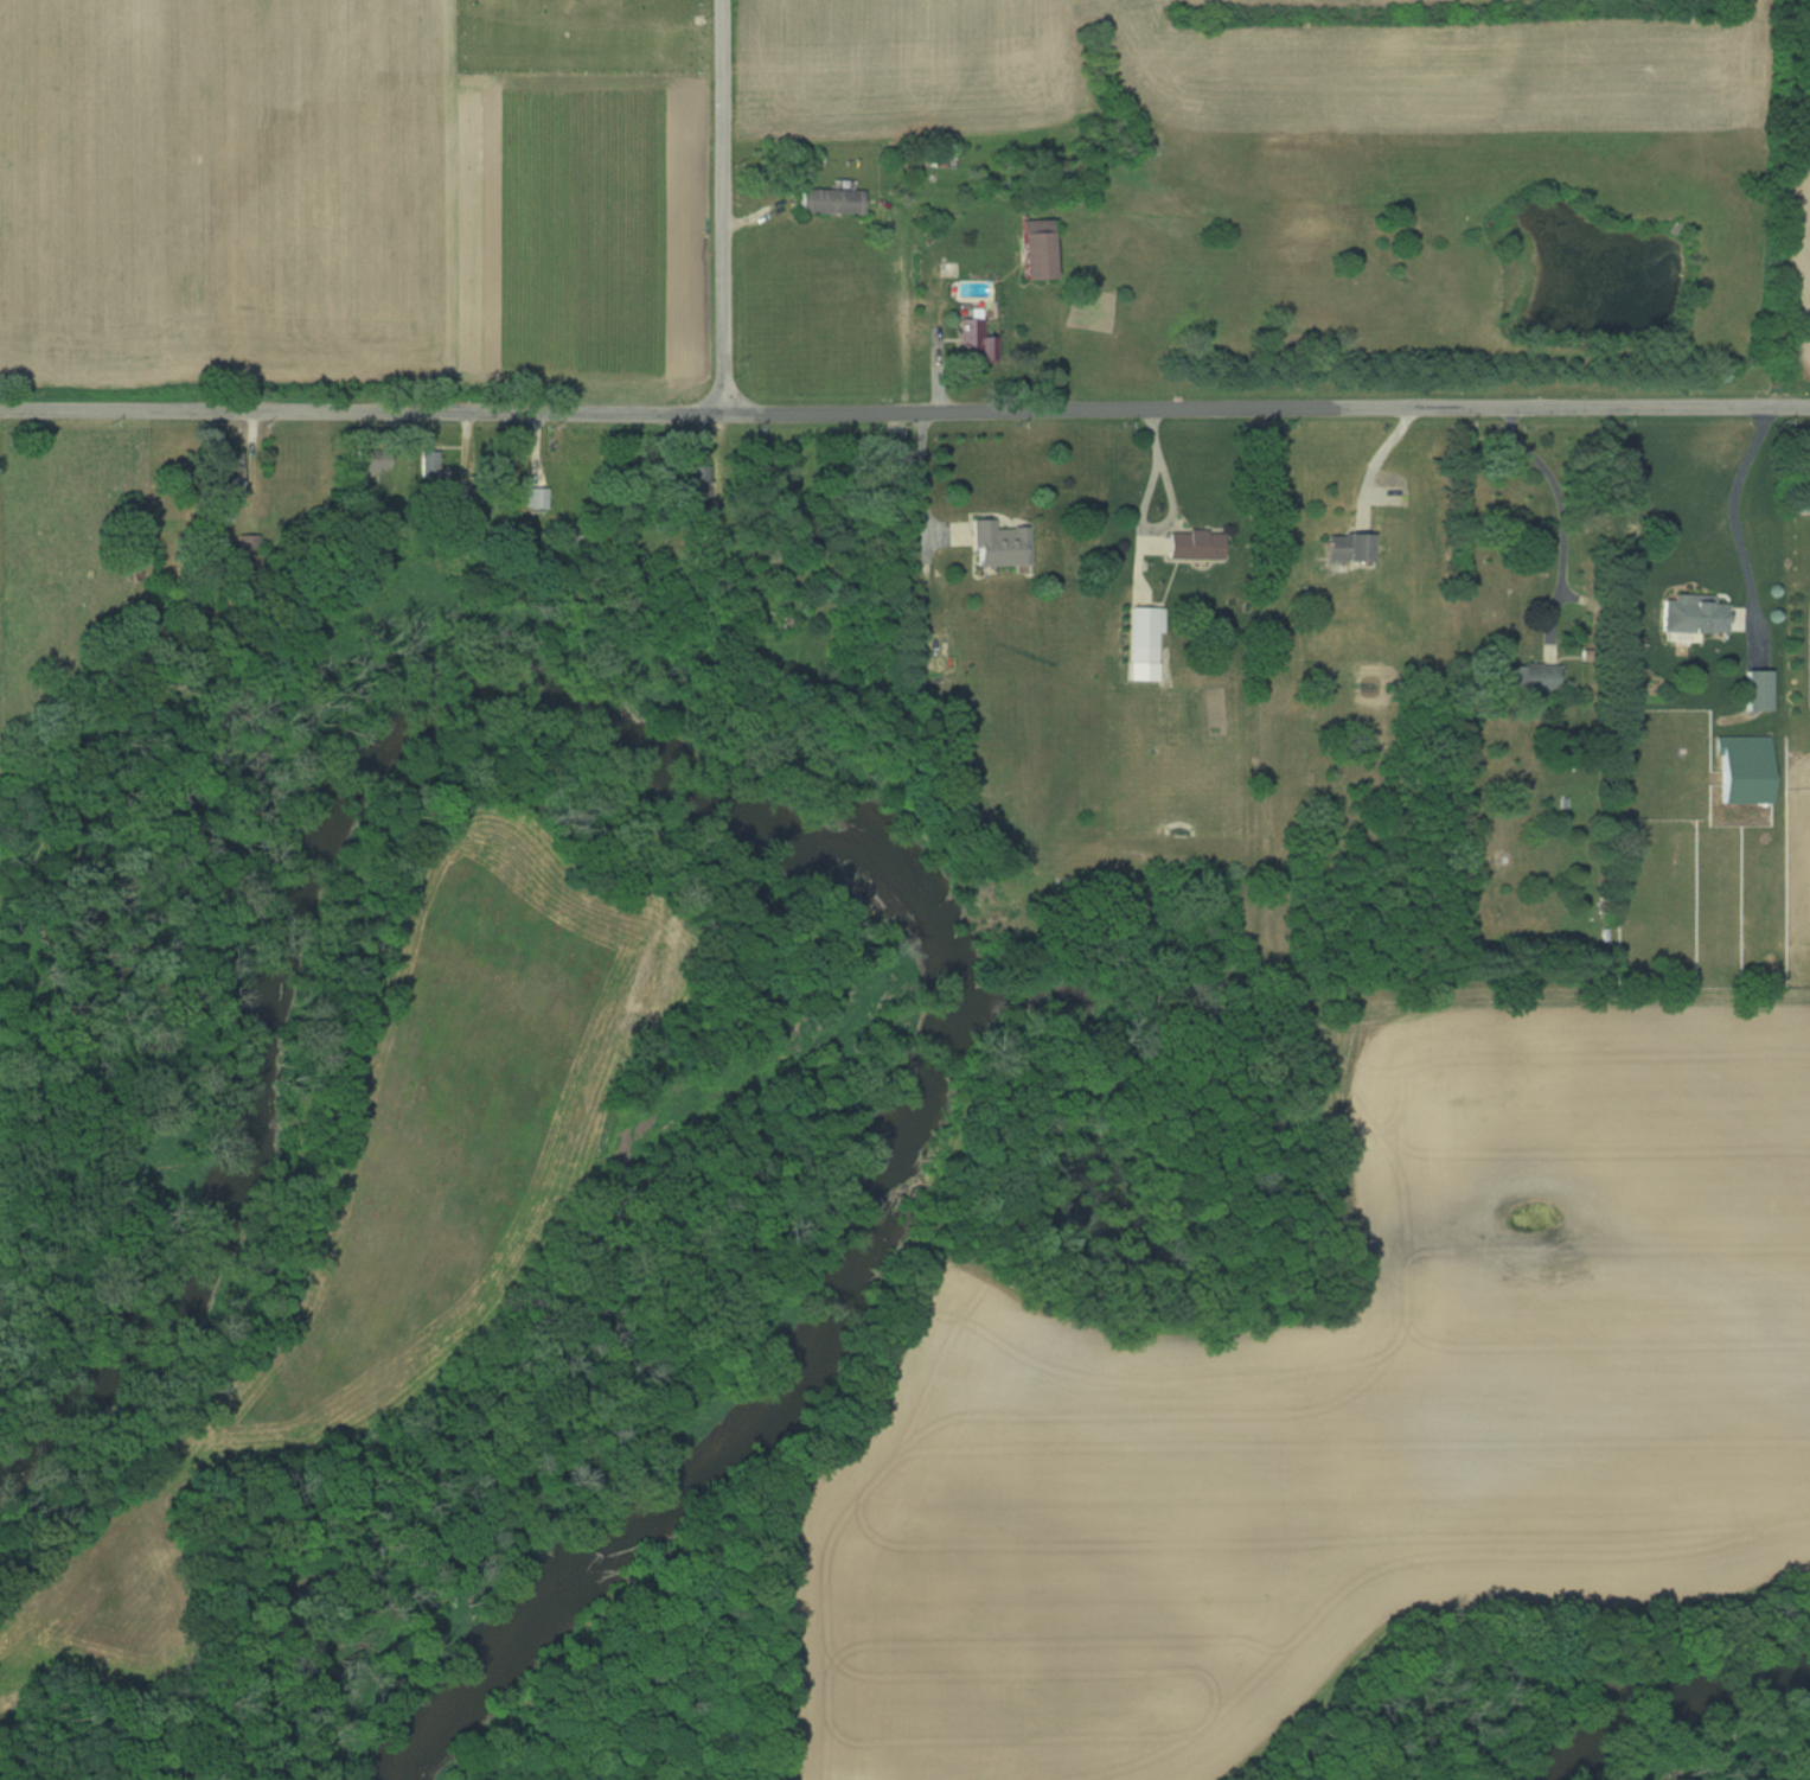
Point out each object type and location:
building: (830, 200)
road: (724, 208)
building: (1035, 248)
building: (973, 340)
road: (904, 413)
road: (1376, 458)
building: (433, 461)
building: (501, 466)
building: (229, 474)
road: (922, 476)
building: (1804, 490)
building: (537, 497)
road: (1562, 511)
road: (1171, 513)
road: (1728, 515)
building: (998, 544)
building: (1194, 544)
building: (1348, 546)
building: (1693, 613)
building: (1144, 642)
building: (1530, 676)
building: (1758, 689)
building: (1744, 770)
river: (749, 836)
river: (1693, 1746)

